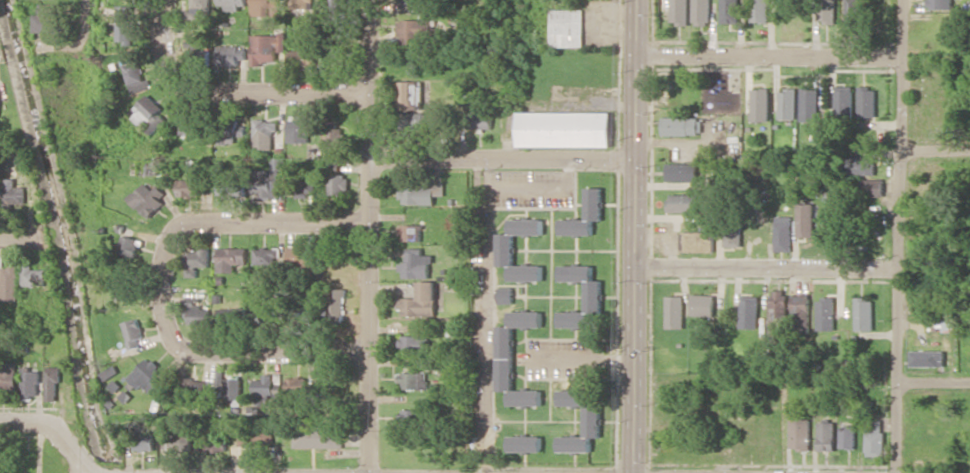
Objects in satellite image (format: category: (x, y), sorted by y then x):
building: (412, 1)
building: (302, 3)
building: (233, 4)
building: (941, 4)
building: (266, 7)
road: (86, 9)
building: (201, 9)
building: (853, 9)
building: (339, 11)
building: (680, 11)
building: (731, 11)
building: (761, 11)
building: (827, 11)
building: (702, 12)
building: (47, 18)
building: (127, 24)
building: (567, 27)
building: (418, 30)
building: (268, 47)
road: (769, 53)
building: (232, 55)
building: (304, 56)
building: (138, 75)
road: (367, 78)
building: (678, 90)
building: (411, 94)
road: (227, 97)
building: (843, 101)
building: (867, 101)
building: (760, 104)
building: (787, 104)
building: (809, 104)
building: (150, 114)
building: (482, 119)
building: (417, 120)
building: (190, 122)
building: (683, 125)
building: (299, 128)
building: (565, 128)
building: (230, 133)
building: (265, 134)
building: (336, 137)
road: (935, 147)
road: (504, 157)
building: (863, 165)
building: (683, 171)
building: (269, 180)
building: (339, 183)
building: (194, 187)
building: (232, 187)
building: (302, 187)
building: (874, 187)
building: (15, 192)
building: (421, 194)
building: (150, 198)
building: (594, 202)
building: (683, 202)
building: (806, 219)
building: (412, 232)
building: (783, 233)
road: (20, 234)
road: (636, 236)
building: (732, 236)
road: (897, 236)
building: (696, 241)
building: (132, 245)
building: (507, 249)
building: (267, 255)
building: (302, 256)
building: (198, 260)
building: (417, 264)
road: (767, 266)
building: (35, 275)
building: (125, 281)
building: (11, 282)
road: (158, 283)
building: (506, 295)
building: (594, 295)
building: (421, 300)
building: (339, 302)
building: (779, 303)
building: (703, 304)
building: (803, 308)
building: (675, 311)
building: (749, 311)
building: (199, 312)
building: (229, 313)
building: (827, 313)
building: (865, 313)
building: (266, 314)
road: (370, 314)
building: (135, 332)
building: (416, 343)
building: (506, 357)
building: (928, 358)
building: (149, 375)
building: (9, 377)
building: (414, 380)
road: (933, 381)
building: (32, 383)
building: (54, 383)
building: (298, 385)
building: (197, 386)
building: (267, 389)
building: (413, 415)
building: (593, 420)
road: (57, 430)
building: (801, 433)
building: (258, 435)
building: (827, 435)
building: (848, 436)
building: (320, 437)
building: (875, 437)
building: (146, 440)
building: (525, 443)
road: (89, 472)

